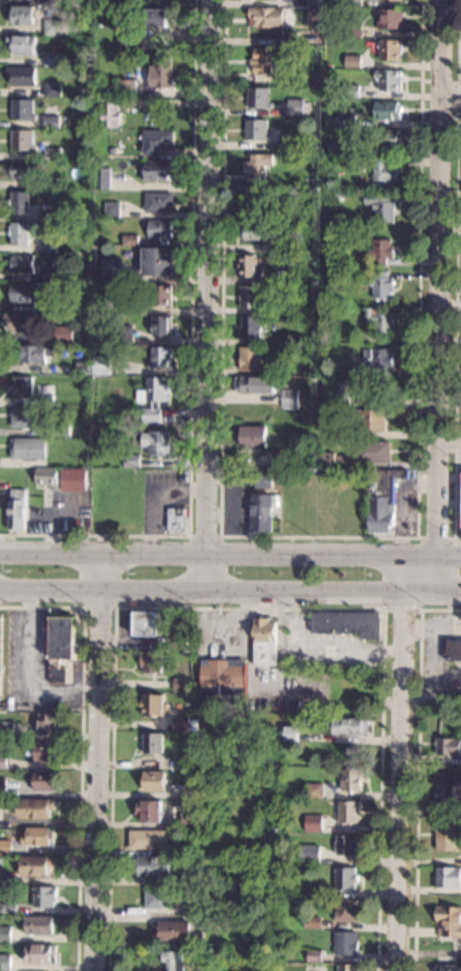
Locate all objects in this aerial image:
building: (393, 0)
building: (56, 2)
building: (126, 2)
building: (340, 2)
building: (315, 3)
building: (352, 3)
building: (22, 16)
building: (266, 16)
building: (314, 17)
building: (154, 18)
building: (389, 19)
building: (54, 28)
building: (351, 31)
building: (126, 40)
road: (458, 43)
building: (22, 45)
building: (390, 50)
building: (52, 60)
building: (352, 61)
building: (261, 62)
building: (160, 73)
building: (22, 75)
building: (319, 78)
building: (388, 80)
building: (125, 87)
building: (52, 90)
building: (350, 91)
building: (258, 98)
road: (450, 98)
road: (457, 99)
building: (295, 108)
building: (22, 109)
building: (88, 110)
building: (386, 111)
building: (109, 113)
building: (344, 120)
building: (50, 122)
building: (152, 123)
building: (256, 130)
building: (387, 138)
building: (22, 140)
building: (156, 141)
building: (286, 145)
building: (337, 146)
building: (111, 150)
building: (52, 153)
building: (258, 166)
building: (386, 169)
building: (22, 170)
building: (156, 171)
building: (101, 178)
building: (49, 184)
building: (337, 197)
building: (157, 202)
building: (19, 203)
building: (250, 204)
building: (380, 207)
building: (112, 209)
building: (286, 214)
building: (46, 216)
building: (159, 229)
building: (317, 229)
building: (252, 231)
building: (19, 234)
building: (129, 240)
building: (47, 247)
building: (380, 251)
building: (157, 262)
building: (21, 264)
building: (249, 266)
building: (101, 270)
building: (47, 274)
building: (291, 277)
building: (380, 285)
building: (24, 293)
road: (208, 295)
building: (161, 296)
building: (250, 296)
road: (438, 296)
building: (65, 307)
building: (127, 308)
building: (280, 308)
building: (378, 321)
building: (19, 322)
building: (160, 326)
building: (250, 326)
road: (455, 330)
building: (122, 334)
building: (62, 335)
building: (325, 347)
building: (35, 353)
building: (160, 357)
building: (248, 359)
building: (377, 360)
road: (189, 361)
building: (100, 365)
building: (81, 367)
building: (268, 371)
building: (253, 385)
building: (22, 387)
building: (344, 388)
building: (154, 397)
building: (289, 399)
building: (45, 400)
building: (29, 417)
building: (367, 420)
building: (61, 430)
building: (338, 432)
building: (251, 436)
building: (156, 442)
road: (449, 444)
building: (28, 448)
building: (52, 449)
building: (372, 452)
building: (279, 459)
building: (310, 460)
building: (130, 461)
building: (334, 461)
building: (46, 478)
building: (262, 478)
building: (73, 480)
building: (304, 496)
building: (381, 498)
building: (16, 510)
building: (261, 513)
building: (175, 519)
road: (318, 536)
road: (230, 555)
road: (453, 555)
road: (219, 556)
road: (80, 587)
road: (230, 591)
road: (382, 592)
building: (144, 622)
building: (344, 623)
building: (0, 636)
building: (176, 640)
building: (263, 641)
building: (58, 646)
building: (453, 650)
road: (114, 655)
building: (148, 660)
road: (27, 672)
building: (221, 679)
building: (178, 684)
road: (430, 700)
building: (151, 704)
building: (46, 723)
building: (178, 724)
building: (347, 725)
building: (5, 728)
building: (192, 728)
building: (289, 733)
building: (151, 743)
building: (447, 746)
road: (80, 748)
building: (44, 751)
building: (1, 761)
building: (213, 762)
road: (95, 763)
road: (398, 763)
building: (179, 764)
road: (416, 769)
building: (44, 780)
building: (349, 780)
building: (151, 781)
building: (2, 787)
building: (444, 788)
building: (311, 790)
road: (379, 790)
building: (188, 791)
building: (33, 808)
building: (147, 810)
building: (347, 812)
building: (190, 818)
building: (311, 823)
building: (192, 833)
building: (445, 835)
building: (37, 836)
building: (146, 839)
building: (344, 844)
building: (4, 846)
building: (182, 849)
building: (308, 855)
building: (34, 865)
building: (150, 865)
building: (193, 877)
building: (343, 877)
building: (447, 877)
building: (313, 892)
building: (177, 894)
building: (42, 895)
building: (155, 898)
building: (7, 907)
building: (193, 907)
building: (345, 910)
building: (212, 922)
building: (310, 922)
building: (448, 922)
building: (39, 925)
building: (172, 930)
building: (4, 934)
building: (344, 943)
building: (39, 953)
building: (312, 956)
building: (173, 960)
building: (4, 961)
building: (346, 967)
building: (448, 968)

